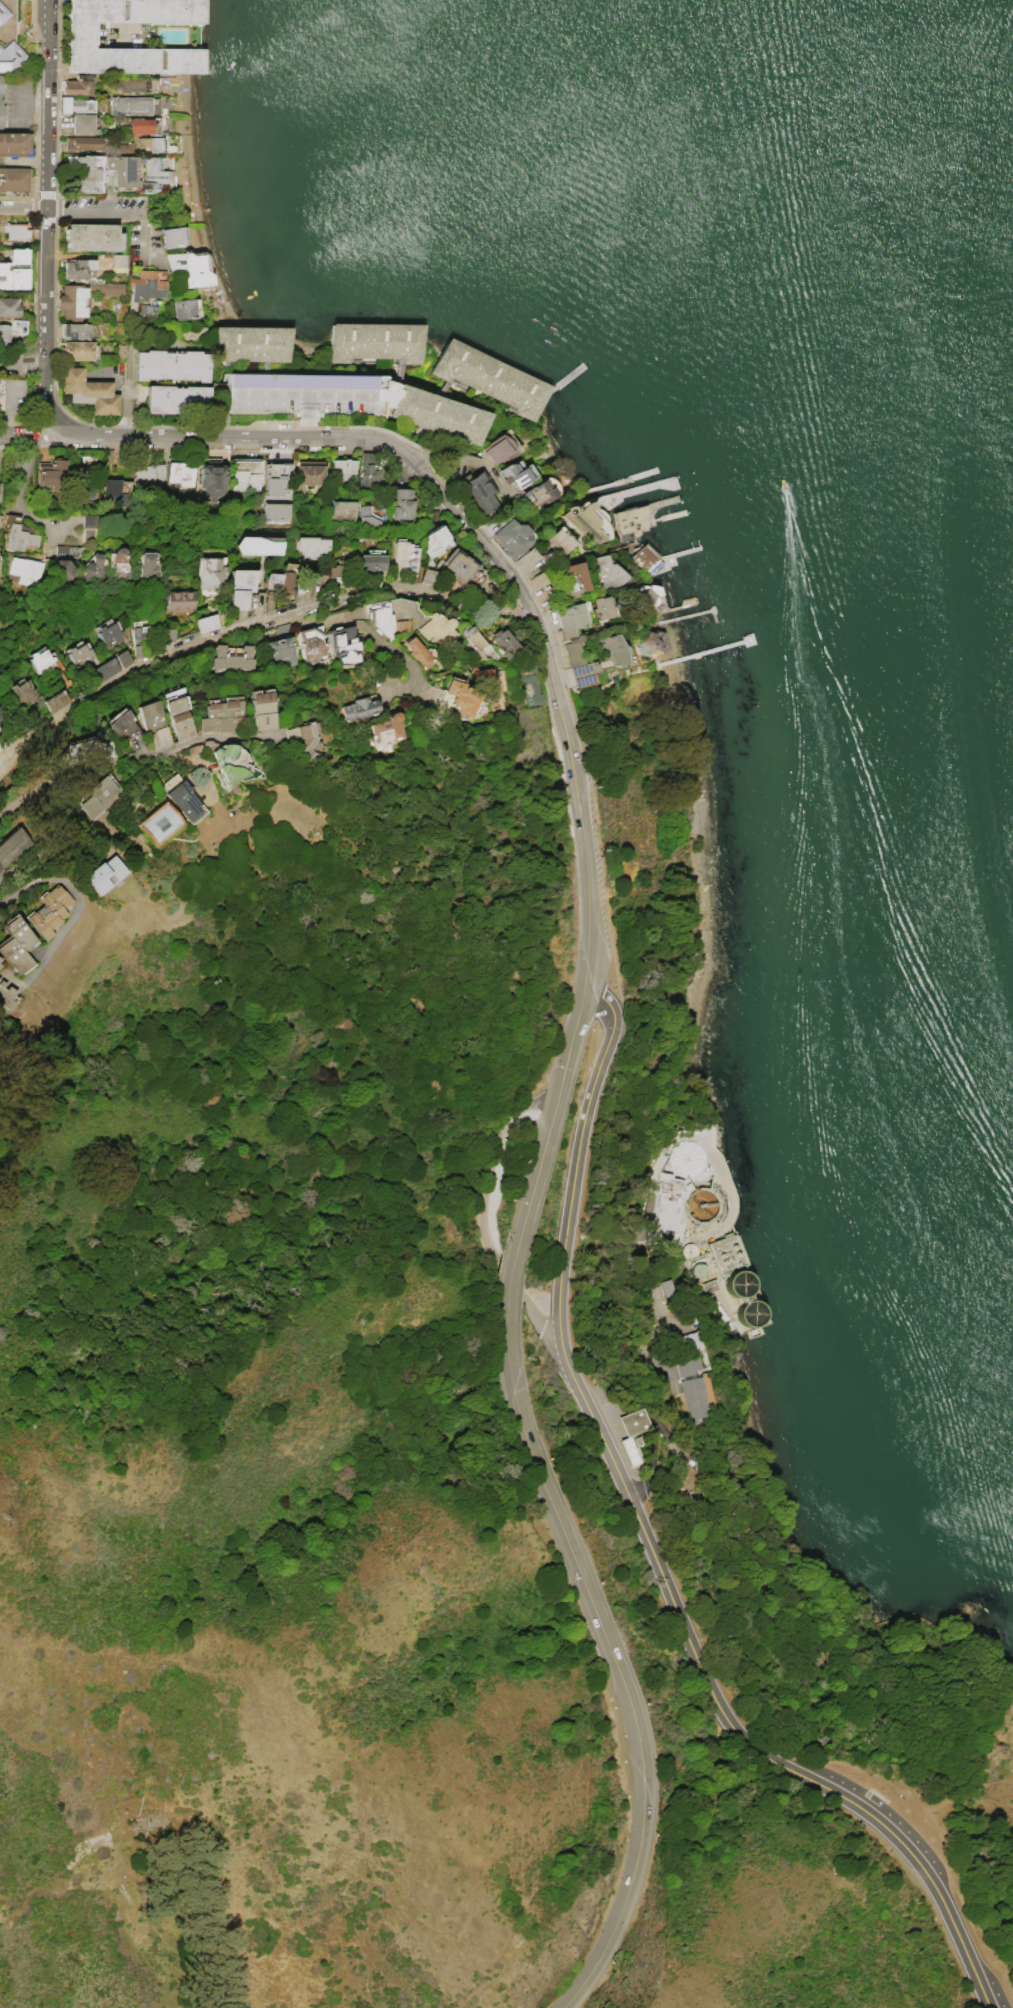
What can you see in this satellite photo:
building: (3, 12)
building: (82, 35)
building: (11, 57)
building: (130, 82)
building: (76, 85)
road: (23, 92)
building: (1, 100)
building: (74, 104)
building: (132, 105)
building: (82, 124)
building: (138, 125)
building: (82, 142)
building: (15, 144)
building: (148, 144)
building: (123, 146)
building: (122, 170)
building: (154, 170)
building: (86, 173)
building: (14, 179)
road: (72, 207)
road: (45, 213)
building: (16, 230)
road: (142, 234)
building: (171, 236)
building: (96, 237)
building: (118, 260)
building: (78, 269)
building: (20, 270)
building: (195, 271)
building: (4, 276)
building: (146, 284)
building: (106, 287)
building: (73, 301)
building: (8, 306)
building: (185, 308)
building: (147, 309)
building: (11, 329)
building: (74, 330)
building: (77, 350)
building: (120, 350)
road: (22, 362)
building: (172, 365)
road: (261, 385)
building: (303, 385)
parking lot: (348, 385)
building: (88, 391)
road: (125, 391)
building: (177, 399)
road: (223, 436)
road: (33, 437)
building: (498, 448)
building: (343, 468)
building: (366, 469)
building: (51, 472)
building: (148, 473)
building: (180, 473)
building: (517, 473)
building: (308, 474)
building: (244, 475)
building: (275, 477)
building: (213, 481)
pier: (623, 482)
building: (115, 490)
building: (479, 490)
building: (540, 492)
pier: (639, 492)
road: (20, 494)
building: (402, 504)
building: (341, 510)
building: (275, 511)
building: (365, 517)
building: (584, 521)
building: (630, 521)
building: (88, 527)
building: (17, 534)
building: (512, 537)
building: (434, 541)
building: (557, 543)
building: (256, 545)
building: (311, 546)
building: (643, 557)
building: (402, 558)
building: (67, 559)
building: (370, 562)
building: (119, 563)
building: (147, 564)
building: (457, 566)
road: (507, 567)
building: (92, 568)
building: (332, 569)
building: (24, 570)
building: (606, 572)
building: (210, 573)
building: (426, 575)
building: (281, 578)
building: (571, 578)
building: (240, 587)
building: (647, 595)
building: (179, 600)
building: (602, 607)
pier: (681, 608)
building: (378, 617)
pier: (690, 617)
road: (261, 621)
building: (206, 622)
building: (401, 626)
building: (437, 632)
road: (369, 633)
building: (109, 634)
building: (167, 634)
building: (138, 638)
building: (501, 640)
building: (652, 642)
building: (311, 644)
building: (345, 644)
building: (480, 648)
building: (585, 648)
building: (281, 651)
building: (417, 652)
building: (79, 655)
building: (232, 657)
building: (123, 658)
building: (41, 659)
building: (106, 669)
building: (529, 680)
building: (488, 686)
building: (21, 692)
building: (462, 698)
building: (56, 700)
building: (268, 705)
building: (357, 707)
building: (156, 710)
building: (183, 710)
building: (227, 711)
building: (131, 724)
building: (392, 724)
building: (312, 737)
parking lot: (590, 740)
building: (89, 748)
road: (7, 753)
road: (132, 758)
road: (7, 760)
building: (230, 762)
building: (99, 796)
building: (183, 801)
building: (157, 824)
building: (12, 846)
road: (588, 861)
building: (104, 874)
road: (74, 899)
building: (48, 910)
building: (17, 945)
building: (0, 962)
building: (0, 965)
building: (7, 996)
road: (573, 1044)
road: (577, 1162)
road: (492, 1167)
building: (666, 1225)
building: (693, 1250)
building: (731, 1253)
building: (700, 1269)
building: (741, 1283)
building: (713, 1285)
building: (667, 1287)
building: (752, 1312)
road: (542, 1326)
building: (690, 1340)
building: (692, 1390)
building: (631, 1424)
building: (627, 1450)
road: (574, 1558)
road: (727, 1719)
parking lot: (899, 1819)

